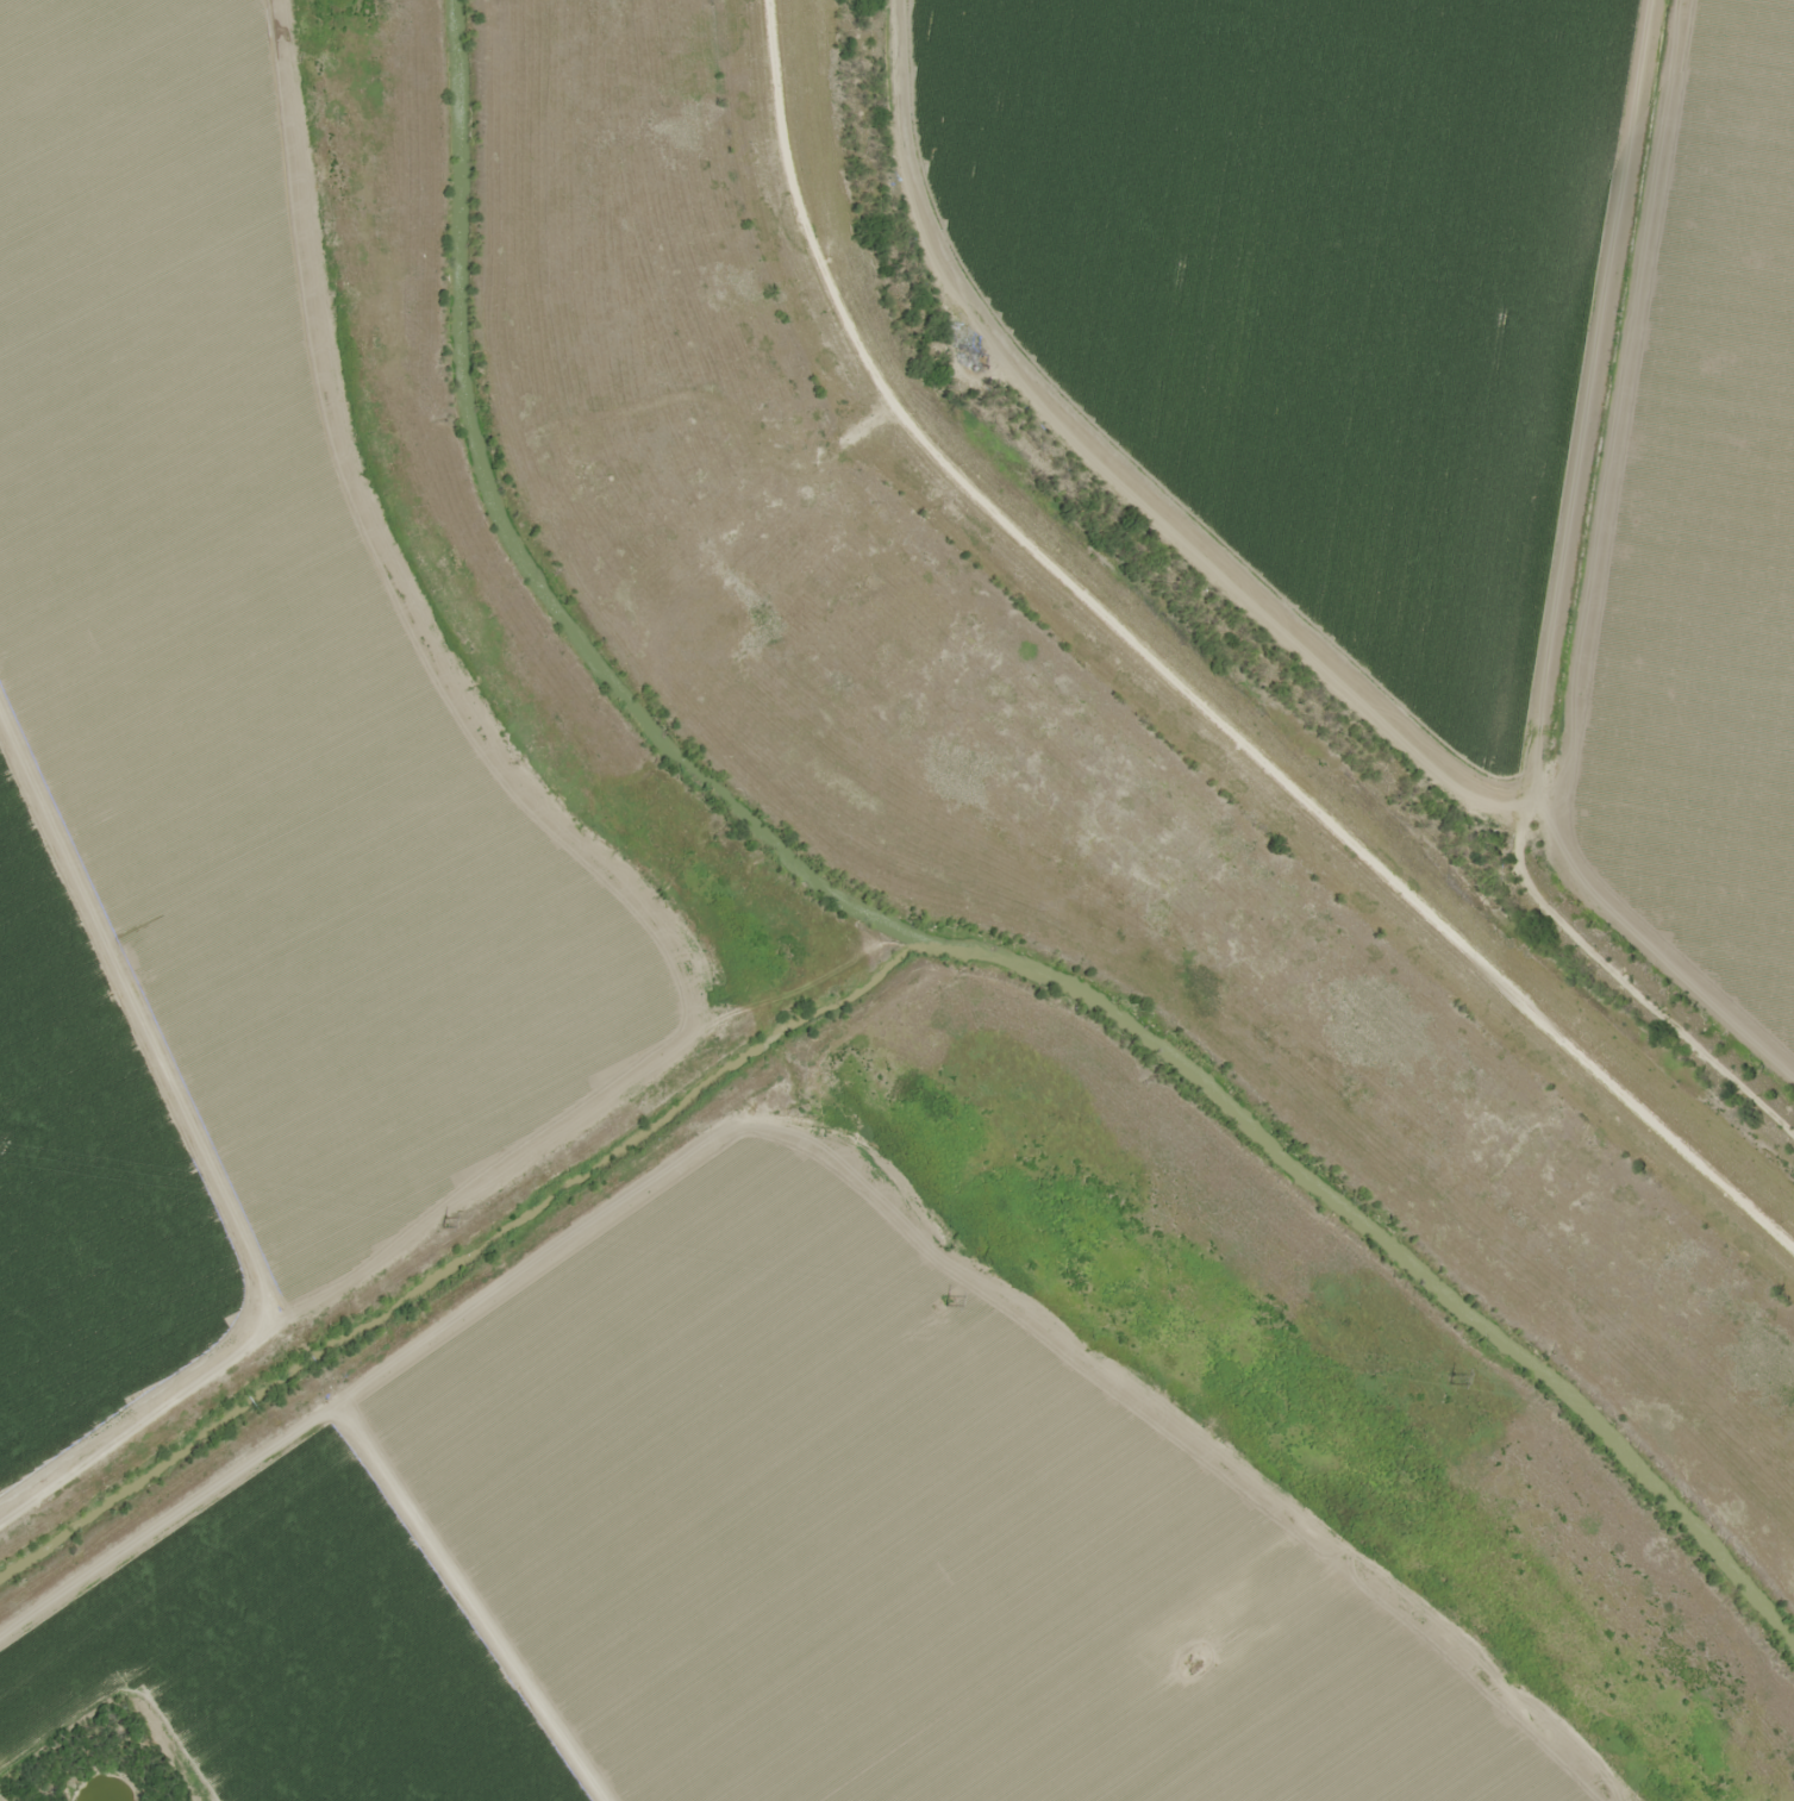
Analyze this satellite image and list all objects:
road: (1313, 525)
river: (533, 551)
road: (219, 1081)
power tower: (444, 1221)
river: (1394, 1245)
power tower: (949, 1300)
power tower: (1452, 1378)

